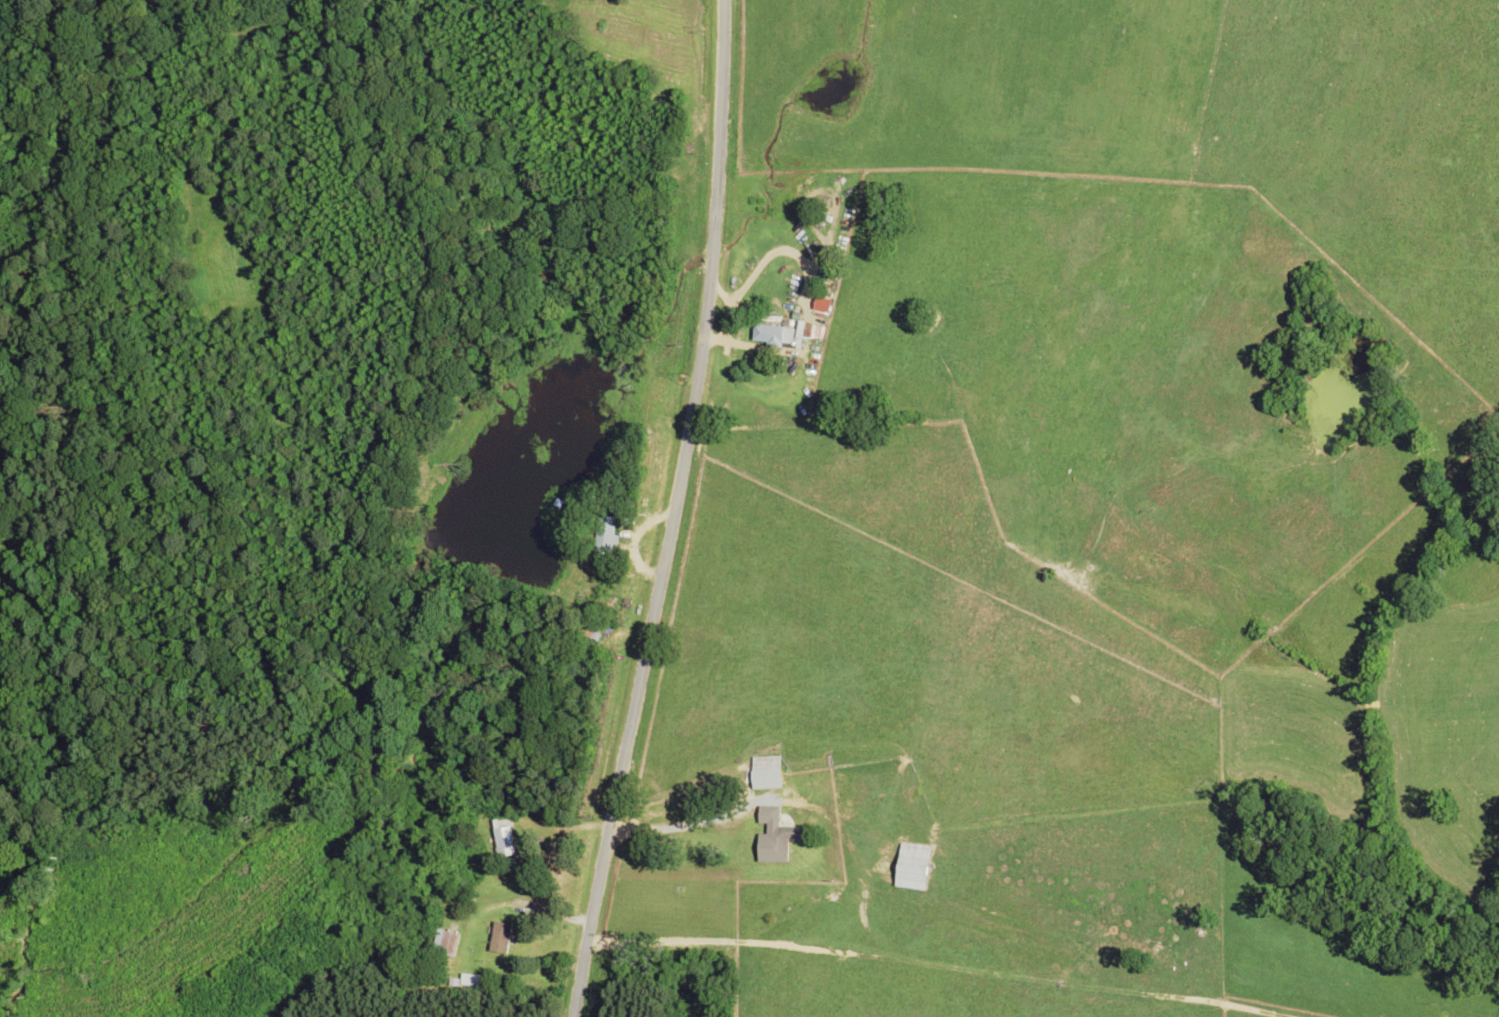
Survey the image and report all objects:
building: (770, 337)
road: (670, 511)
building: (608, 537)
building: (592, 636)
building: (767, 776)
road: (561, 824)
building: (503, 841)
building: (783, 844)
building: (915, 870)
road: (857, 881)
building: (502, 939)
building: (445, 947)

